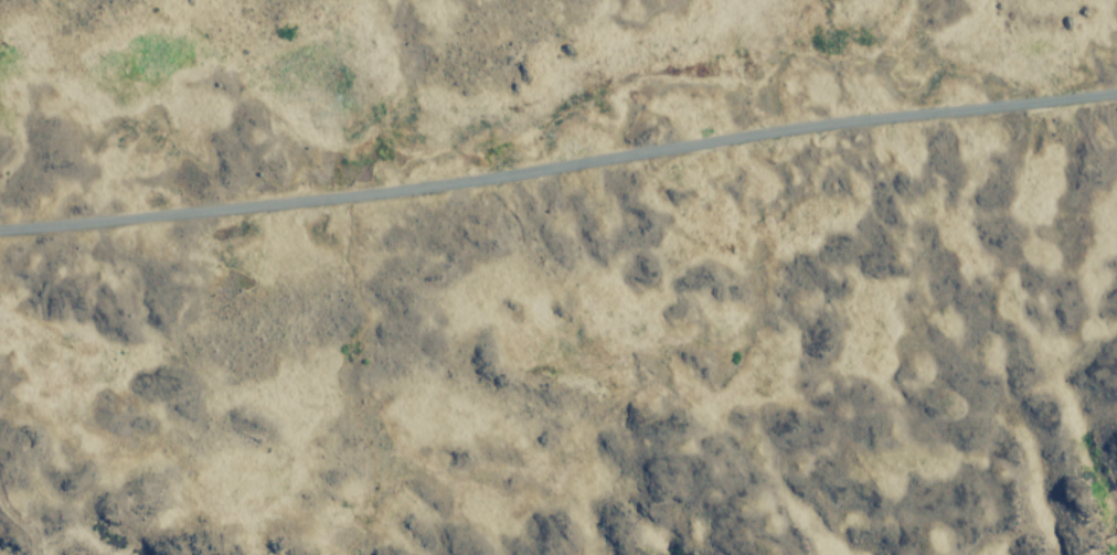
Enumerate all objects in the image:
road: (558, 168)

